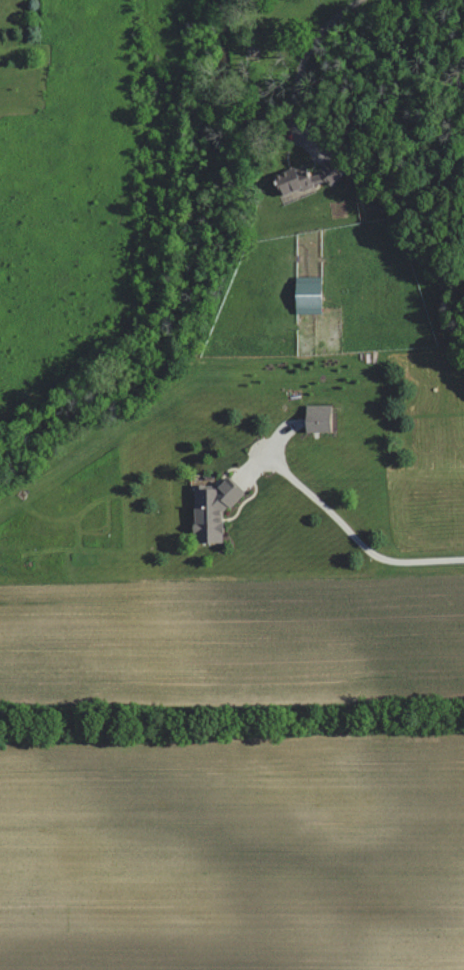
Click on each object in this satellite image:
road: (303, 61)
building: (300, 177)
building: (306, 294)
building: (317, 418)
building: (211, 510)
road: (355, 535)

